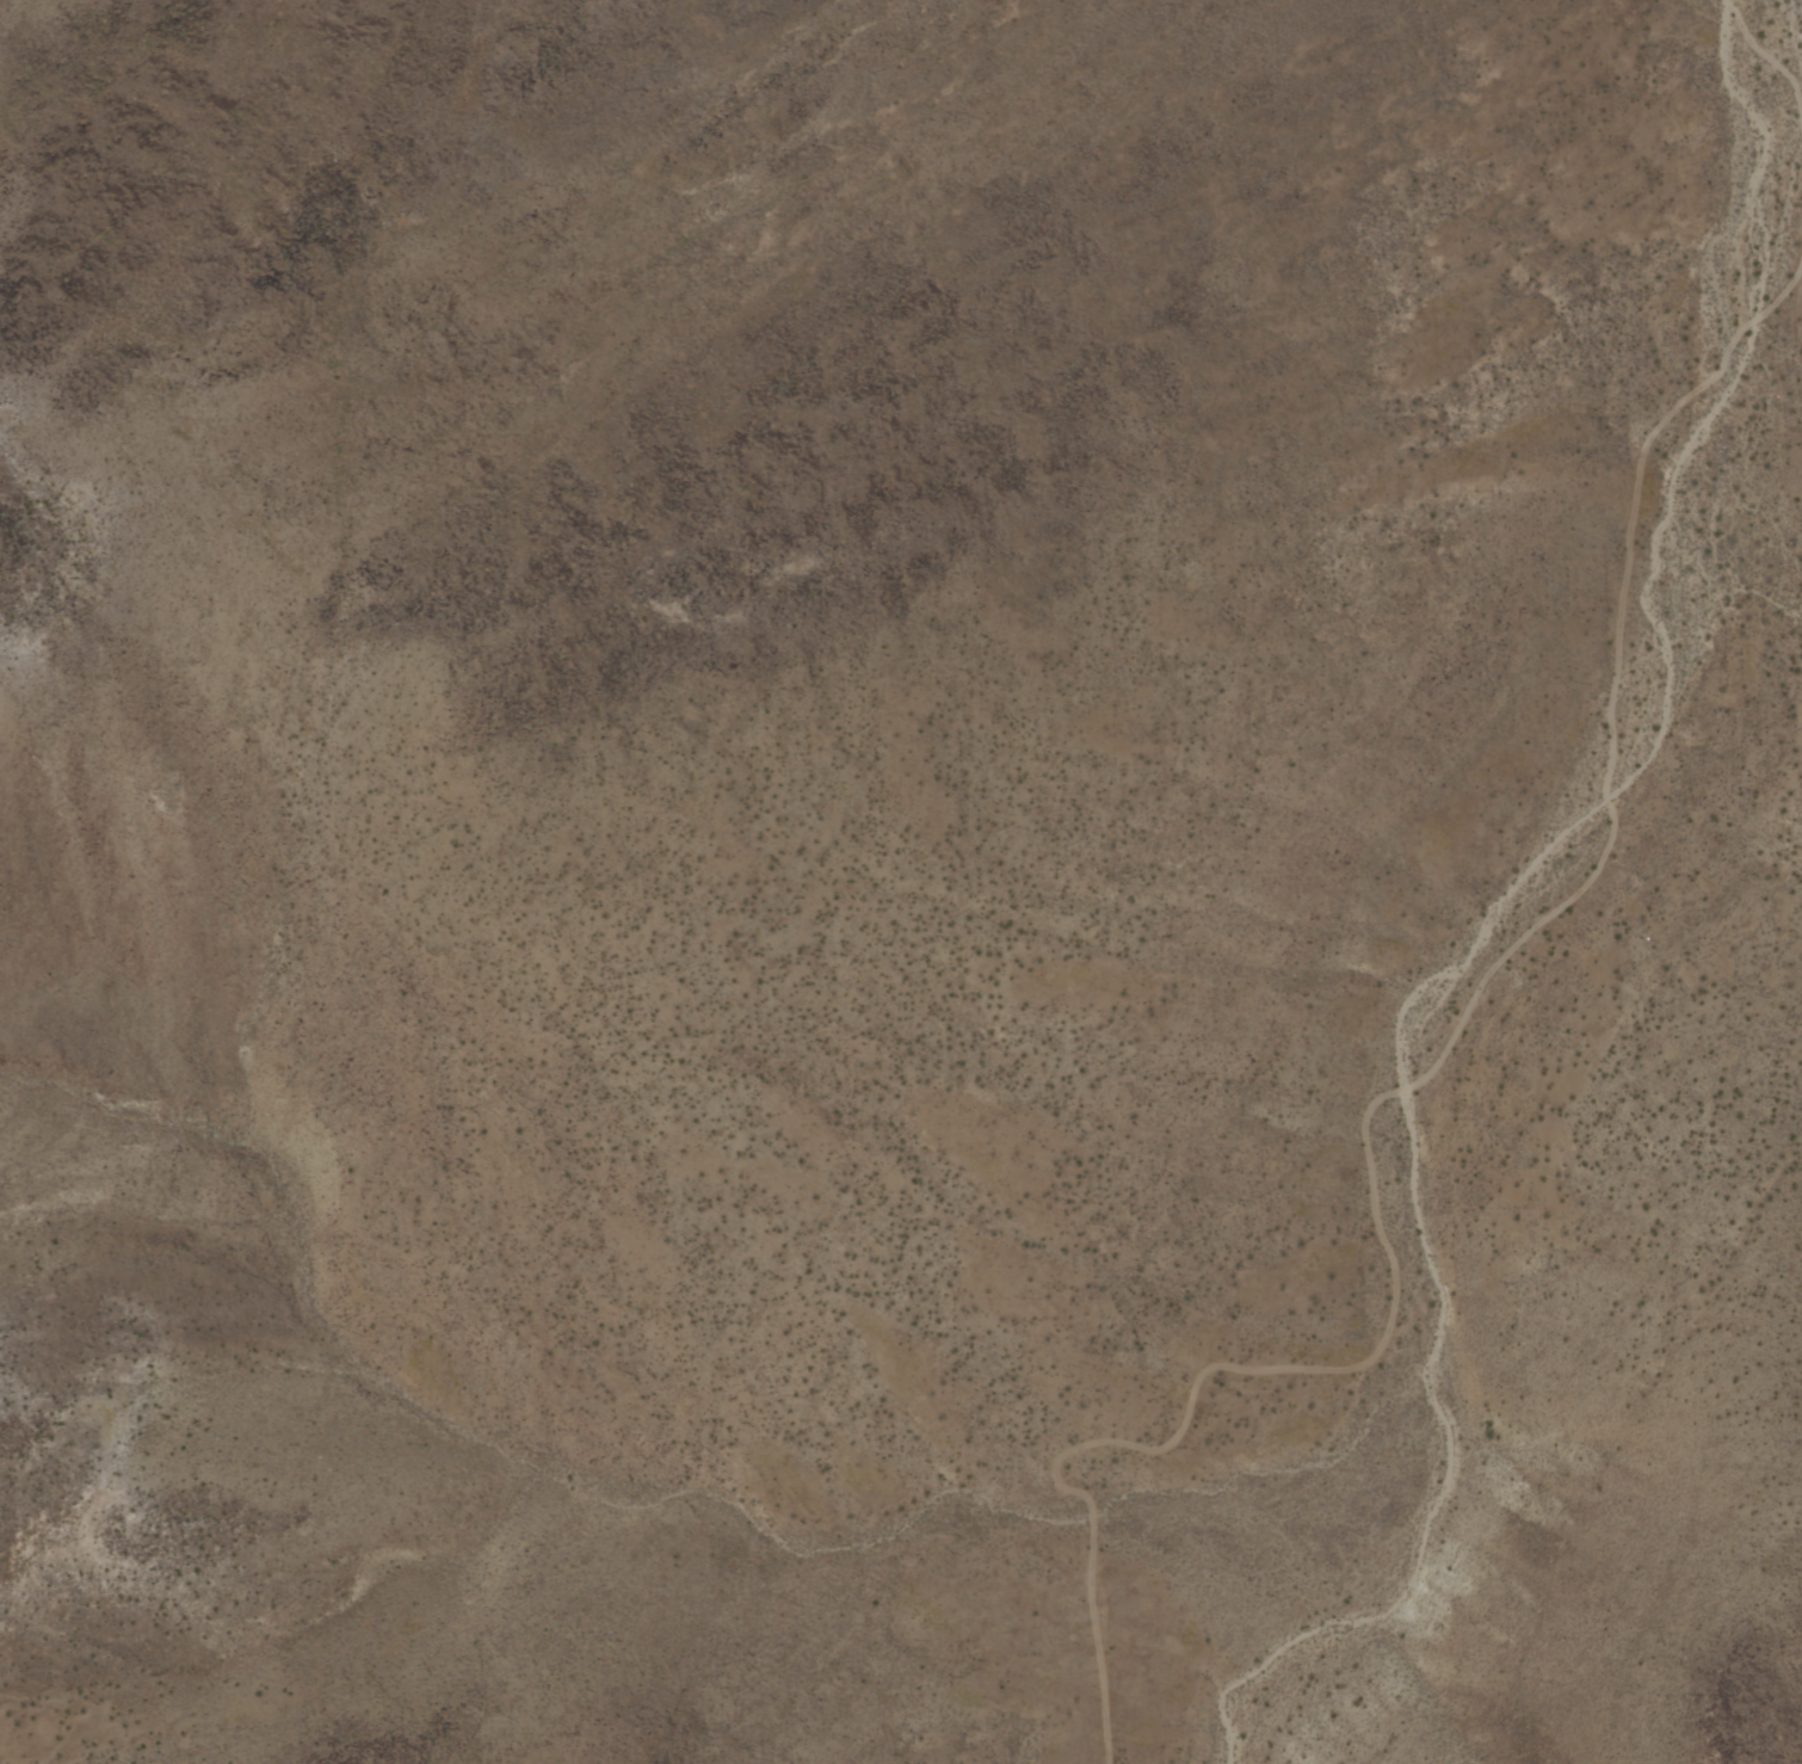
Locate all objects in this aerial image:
road: (1733, 401)

